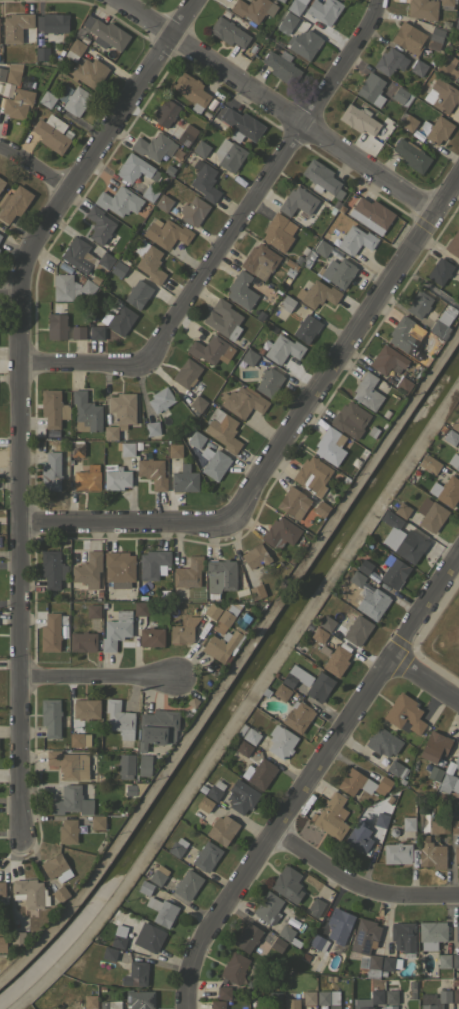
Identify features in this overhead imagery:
building: (282, 0)
building: (278, 1)
building: (446, 2)
building: (295, 6)
building: (253, 8)
building: (422, 8)
building: (324, 10)
building: (225, 13)
building: (52, 22)
building: (286, 22)
building: (16, 25)
building: (456, 26)
building: (79, 31)
building: (228, 32)
building: (105, 33)
building: (408, 37)
building: (85, 38)
building: (437, 38)
building: (307, 43)
building: (75, 48)
building: (253, 49)
building: (42, 53)
building: (390, 61)
building: (458, 63)
building: (282, 66)
building: (418, 67)
building: (448, 67)
building: (88, 71)
building: (2, 73)
building: (12, 77)
building: (458, 78)
building: (371, 89)
building: (191, 91)
building: (399, 94)
building: (442, 95)
building: (47, 98)
building: (76, 100)
building: (18, 103)
road: (274, 103)
building: (165, 112)
building: (205, 114)
building: (359, 119)
building: (408, 122)
building: (242, 125)
building: (434, 129)
building: (52, 133)
building: (187, 135)
building: (153, 146)
building: (201, 148)
building: (228, 154)
building: (411, 155)
building: (133, 167)
road: (36, 169)
building: (169, 169)
building: (322, 179)
building: (205, 180)
building: (1, 183)
building: (149, 193)
building: (118, 201)
building: (297, 201)
building: (163, 202)
building: (13, 203)
building: (193, 211)
building: (370, 214)
building: (99, 225)
building: (278, 232)
building: (166, 233)
road: (235, 233)
building: (0, 235)
building: (0, 238)
building: (355, 240)
building: (453, 244)
building: (105, 246)
building: (322, 248)
building: (334, 253)
building: (77, 254)
building: (310, 254)
building: (298, 259)
building: (105, 260)
building: (149, 261)
building: (259, 261)
building: (306, 262)
building: (65, 266)
building: (120, 267)
building: (290, 271)
building: (440, 271)
building: (337, 272)
building: (96, 278)
building: (286, 278)
building: (253, 283)
building: (458, 284)
road: (431, 287)
building: (70, 288)
building: (241, 290)
building: (138, 293)
road: (11, 294)
building: (317, 294)
building: (418, 304)
building: (284, 307)
building: (260, 315)
building: (119, 319)
building: (223, 319)
building: (442, 323)
building: (56, 326)
building: (306, 328)
building: (78, 332)
building: (96, 332)
building: (403, 335)
building: (210, 349)
building: (260, 349)
building: (282, 349)
building: (248, 358)
building: (387, 360)
building: (424, 360)
building: (186, 373)
building: (393, 378)
building: (269, 382)
building: (403, 385)
building: (367, 391)
road: (25, 393)
building: (160, 399)
building: (242, 401)
building: (197, 403)
building: (53, 408)
building: (122, 408)
building: (86, 413)
building: (386, 413)
building: (350, 419)
building: (455, 424)
building: (151, 428)
building: (442, 428)
building: (222, 429)
building: (373, 430)
building: (110, 432)
building: (52, 433)
building: (450, 437)
building: (195, 439)
road: (289, 439)
building: (138, 445)
building: (330, 445)
building: (77, 449)
building: (127, 449)
building: (174, 450)
building: (92, 460)
building: (454, 460)
building: (214, 462)
building: (429, 464)
building: (51, 471)
building: (152, 472)
building: (312, 474)
building: (87, 478)
building: (117, 478)
building: (184, 479)
building: (446, 490)
building: (329, 500)
building: (293, 503)
building: (321, 508)
building: (402, 510)
building: (430, 514)
building: (394, 521)
building: (281, 532)
building: (409, 546)
building: (177, 551)
road: (12, 554)
building: (256, 557)
building: (152, 563)
building: (119, 566)
building: (364, 567)
building: (52, 568)
building: (88, 570)
building: (394, 571)
building: (346, 572)
building: (187, 573)
building: (221, 575)
building: (374, 577)
building: (356, 578)
building: (257, 591)
building: (174, 595)
building: (246, 596)
road: (11, 603)
building: (372, 603)
building: (140, 608)
building: (93, 611)
building: (212, 611)
building: (226, 616)
building: (318, 616)
building: (327, 623)
building: (309, 625)
building: (116, 629)
building: (357, 630)
building: (51, 631)
building: (181, 634)
building: (319, 635)
building: (151, 636)
building: (83, 641)
building: (223, 644)
building: (299, 648)
building: (324, 650)
building: (337, 659)
road: (100, 678)
building: (308, 682)
road: (425, 683)
building: (281, 692)
building: (193, 702)
building: (86, 708)
building: (404, 714)
building: (298, 716)
building: (51, 717)
building: (119, 719)
building: (157, 728)
building: (248, 734)
building: (94, 737)
building: (79, 739)
building: (281, 741)
building: (383, 742)
building: (435, 746)
building: (243, 747)
building: (457, 760)
building: (69, 764)
building: (144, 765)
building: (123, 767)
building: (449, 767)
building: (458, 769)
building: (397, 770)
building: (259, 773)
building: (434, 775)
building: (100, 777)
road: (307, 780)
building: (449, 782)
building: (362, 783)
building: (215, 790)
building: (242, 797)
building: (70, 800)
building: (202, 801)
building: (332, 816)
building: (381, 820)
building: (98, 822)
building: (408, 823)
building: (438, 826)
building: (454, 826)
building: (222, 829)
building: (67, 831)
building: (392, 832)
building: (357, 840)
building: (177, 847)
building: (430, 852)
building: (397, 853)
building: (190, 854)
building: (456, 854)
building: (206, 856)
building: (56, 868)
building: (158, 875)
road: (358, 882)
building: (187, 884)
building: (287, 884)
building: (145, 887)
building: (2, 888)
building: (30, 893)
building: (60, 893)
building: (268, 907)
building: (316, 907)
building: (162, 911)
building: (338, 927)
building: (457, 930)
building: (431, 934)
building: (288, 935)
building: (118, 936)
building: (403, 936)
building: (148, 937)
building: (247, 937)
building: (18, 938)
building: (318, 942)
building: (2, 943)
building: (277, 944)
building: (366, 947)
building: (109, 953)
building: (305, 956)
building: (455, 960)
building: (443, 961)
building: (389, 964)
building: (235, 967)
building: (136, 973)
building: (328, 977)
building: (334, 977)
building: (455, 980)
building: (101, 987)
building: (224, 992)
building: (455, 995)
building: (390, 996)
building: (275, 997)
building: (309, 998)
building: (328, 998)
building: (140, 999)
building: (435, 999)
building: (372, 1000)
building: (90, 1001)
building: (291, 1003)
building: (110, 1004)
building: (217, 1004)
building: (323, 1007)

